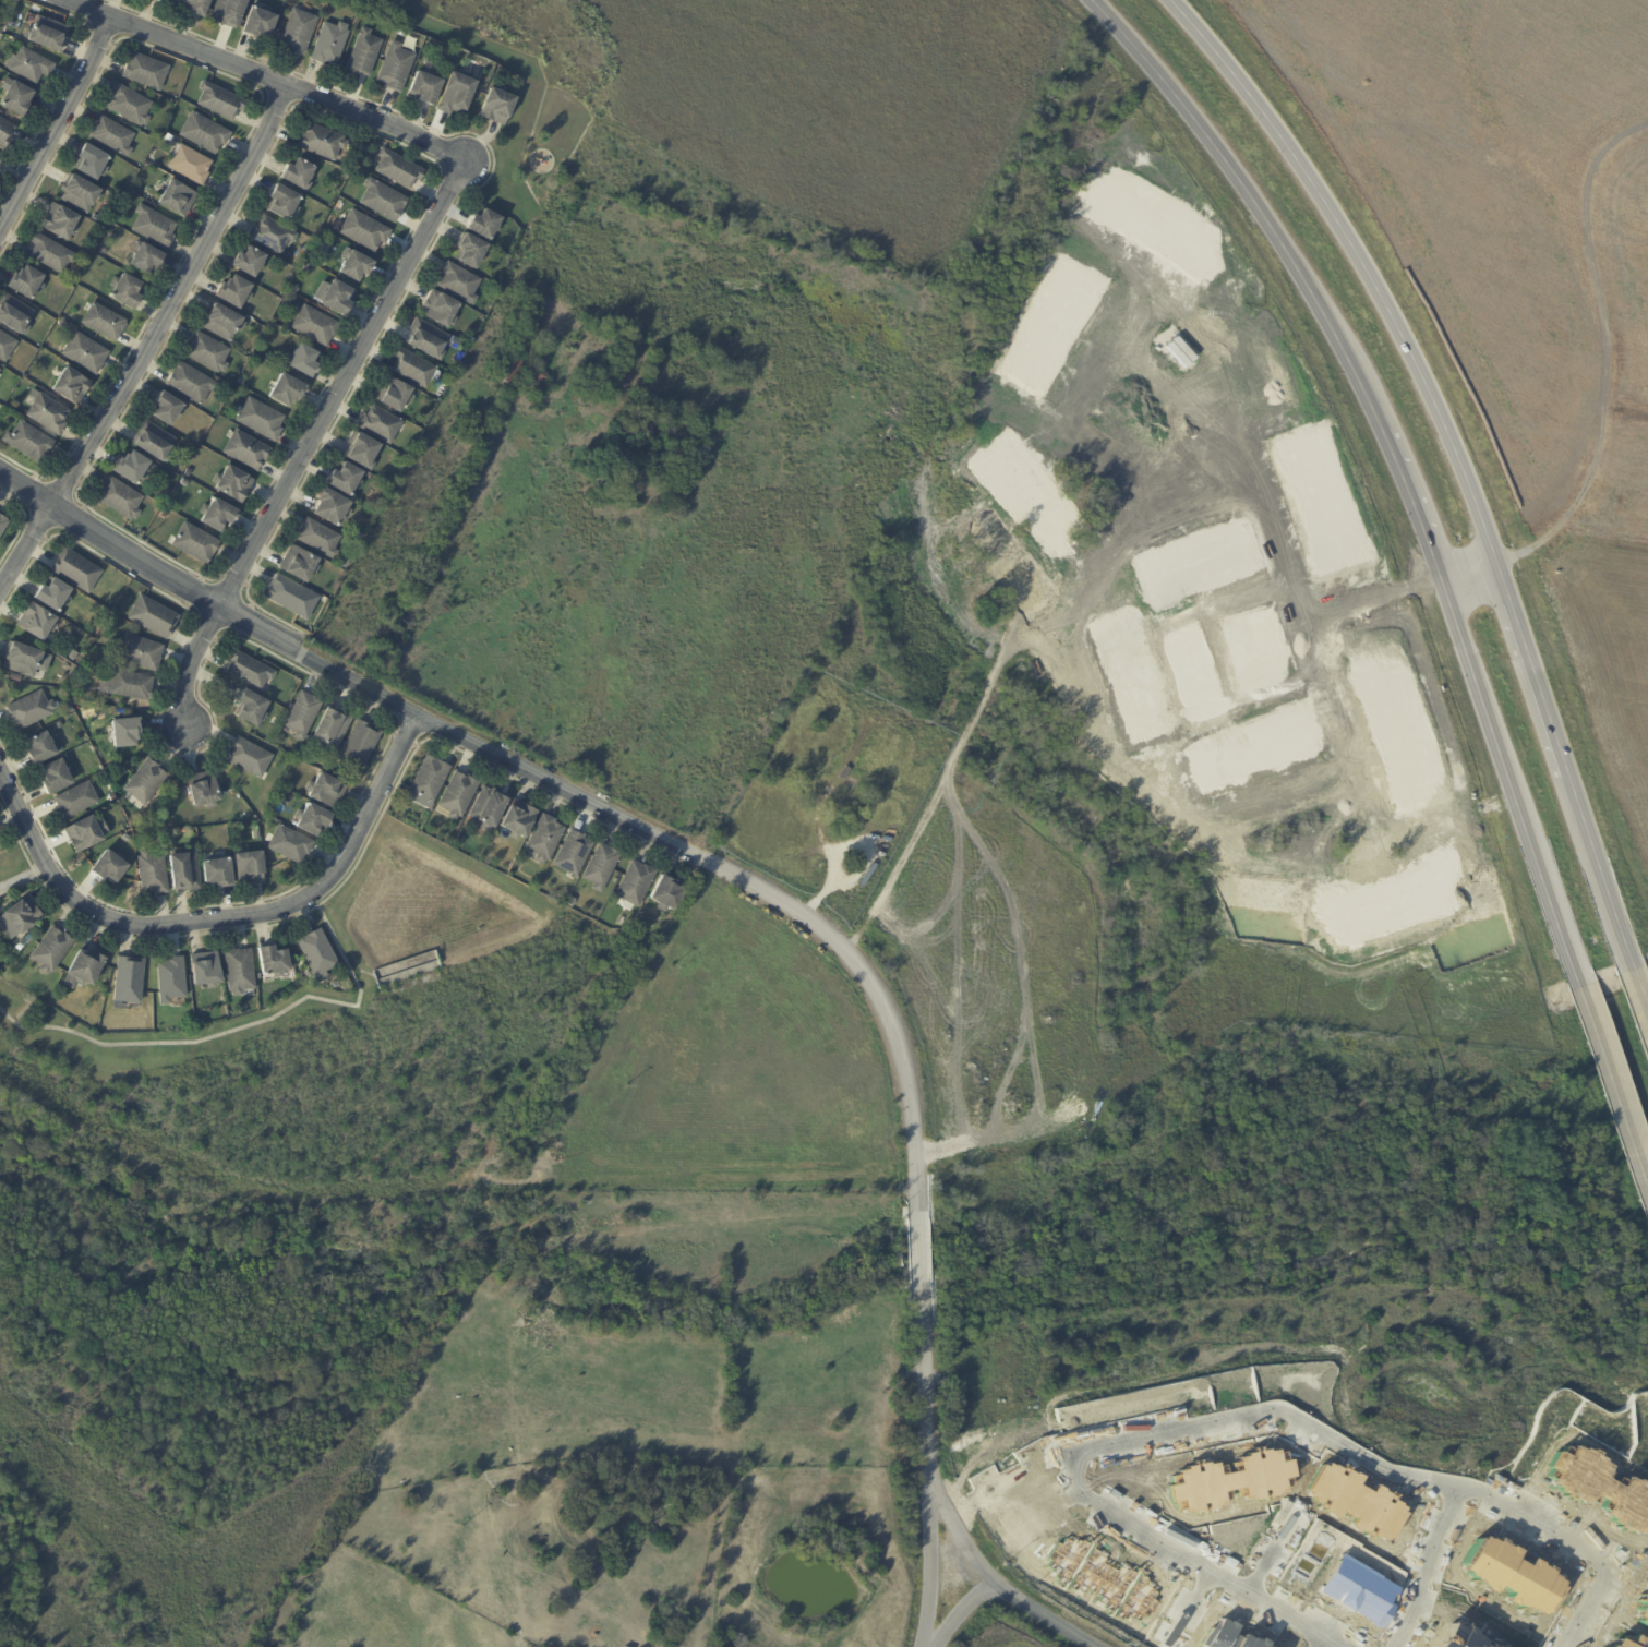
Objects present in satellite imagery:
building: (173, 0)
building: (167, 1)
building: (196, 7)
building: (231, 12)
building: (261, 24)
building: (300, 33)
building: (47, 34)
building: (1, 38)
building: (333, 44)
building: (366, 55)
building: (31, 65)
building: (398, 68)
building: (147, 72)
road: (253, 80)
building: (425, 88)
building: (457, 95)
building: (19, 99)
building: (221, 101)
building: (131, 106)
building: (498, 108)
road: (55, 131)
building: (5, 134)
building: (206, 134)
building: (115, 136)
building: (170, 139)
building: (323, 143)
building: (1, 161)
building: (92, 161)
building: (192, 165)
building: (400, 170)
building: (300, 175)
building: (81, 194)
building: (177, 197)
building: (385, 201)
building: (284, 203)
road: (1254, 205)
building: (60, 221)
building: (485, 224)
building: (156, 227)
building: (366, 231)
building: (274, 236)
building: (324, 249)
building: (470, 250)
building: (104, 252)
building: (52, 254)
building: (148, 257)
building: (251, 263)
building: (357, 266)
road: (1362, 266)
building: (459, 282)
building: (27, 284)
building: (127, 290)
building: (296, 290)
building: (236, 292)
building: (337, 298)
building: (444, 310)
building: (15, 315)
building: (106, 323)
building: (224, 323)
building: (317, 326)
building: (459, 334)
building: (429, 340)
road: (147, 342)
building: (7, 347)
building: (208, 353)
building: (88, 356)
building: (303, 362)
building: (416, 369)
building: (0, 372)
building: (517, 372)
building: (453, 375)
building: (242, 383)
building: (191, 384)
building: (72, 386)
building: (288, 393)
building: (394, 395)
building: (168, 409)
building: (49, 416)
building: (263, 420)
building: (382, 423)
building: (31, 443)
building: (155, 443)
road: (309, 445)
building: (364, 449)
building: (249, 452)
building: (133, 470)
building: (346, 477)
building: (184, 483)
building: (233, 484)
building: (120, 500)
building: (334, 506)
road: (1415, 509)
building: (164, 515)
building: (217, 515)
building: (3, 526)
building: (361, 536)
building: (321, 538)
building: (197, 544)
building: (346, 563)
building: (301, 564)
building: (77, 569)
road: (1471, 577)
building: (53, 594)
building: (289, 594)
building: (155, 617)
building: (37, 622)
building: (142, 652)
building: (74, 656)
building: (23, 659)
building: (251, 670)
road: (1532, 675)
building: (130, 685)
building: (252, 708)
building: (70, 709)
building: (29, 710)
building: (305, 714)
building: (333, 730)
building: (127, 733)
building: (362, 745)
building: (41, 748)
building: (251, 758)
building: (842, 771)
building: (56, 778)
road: (1511, 780)
building: (147, 781)
building: (430, 782)
building: (204, 791)
building: (327, 791)
building: (460, 794)
building: (75, 801)
building: (490, 808)
building: (887, 819)
building: (315, 820)
building: (520, 820)
building: (887, 826)
building: (86, 833)
building: (256, 835)
building: (127, 839)
building: (548, 839)
building: (460, 840)
building: (887, 841)
building: (1, 843)
building: (292, 844)
building: (145, 846)
building: (575, 853)
building: (251, 867)
building: (602, 867)
park: (16, 868)
building: (109, 868)
road: (1599, 870)
building: (153, 873)
building: (184, 873)
building: (219, 874)
building: (866, 874)
building: (637, 885)
road: (20, 886)
building: (669, 894)
road: (771, 895)
building: (25, 915)
road: (229, 921)
building: (623, 921)
building: (20, 948)
building: (53, 950)
building: (318, 953)
building: (275, 962)
building: (85, 969)
building: (208, 970)
building: (240, 971)
building: (172, 979)
building: (130, 981)
building: (338, 984)
road: (1638, 989)
road: (231, 1030)
park: (344, 1075)
road: (1612, 1081)
road: (1239, 1420)
building: (1231, 1480)
building: (1601, 1486)
building: (1358, 1500)
road: (930, 1552)
road: (1431, 1568)
building: (1514, 1575)
building: (1103, 1579)
building: (1358, 1590)
building: (1644, 1607)
road: (961, 1611)
building: (1175, 1628)
building: (1229, 1636)
building: (1463, 1637)
building: (1632, 1642)
road: (1330, 1645)
road: (1333, 1645)
building: (624, 1646)
building: (724, 1646)
building: (1504, 1646)

